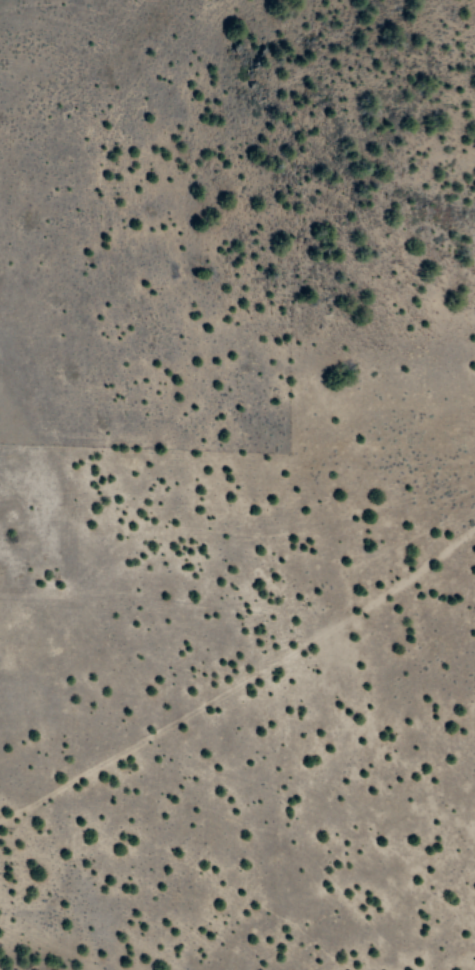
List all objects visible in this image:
road: (245, 674)

